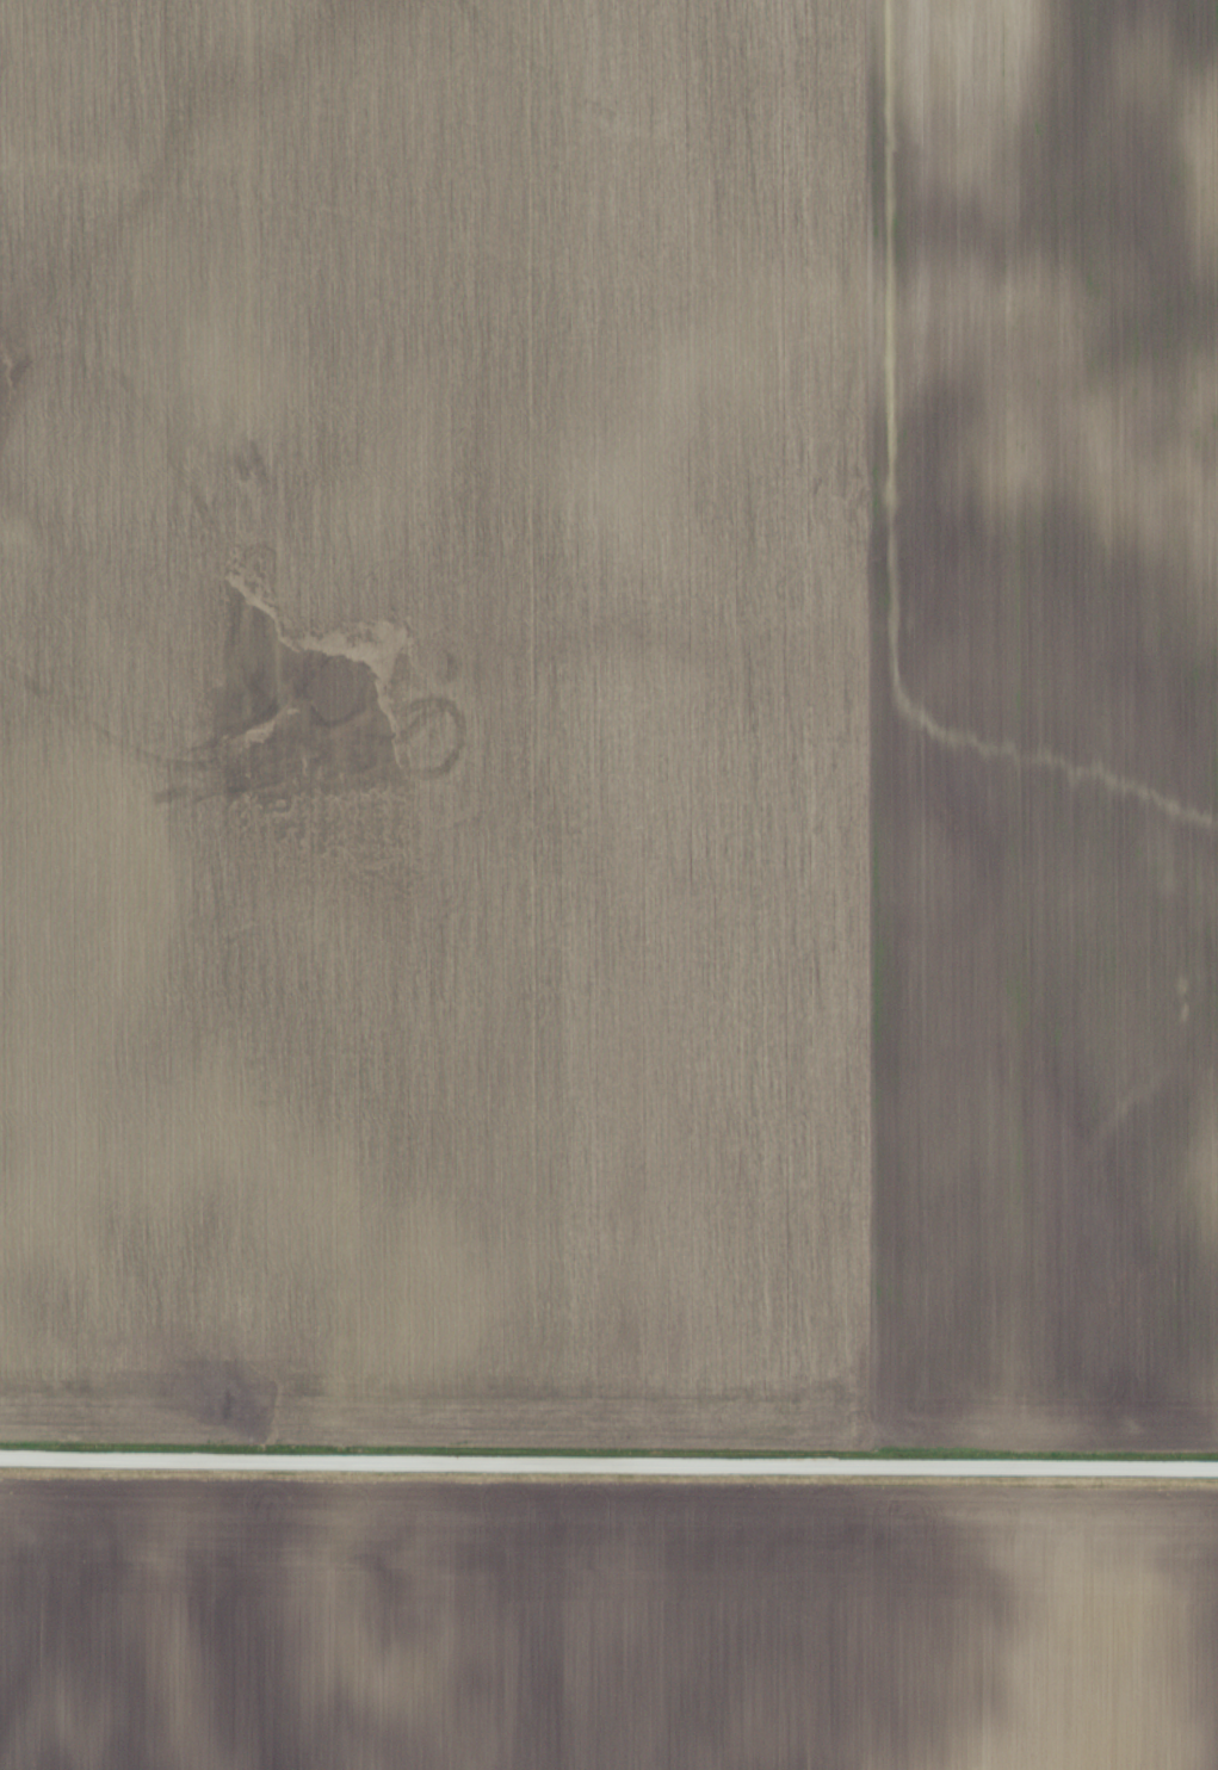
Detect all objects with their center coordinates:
road: (608, 1462)

